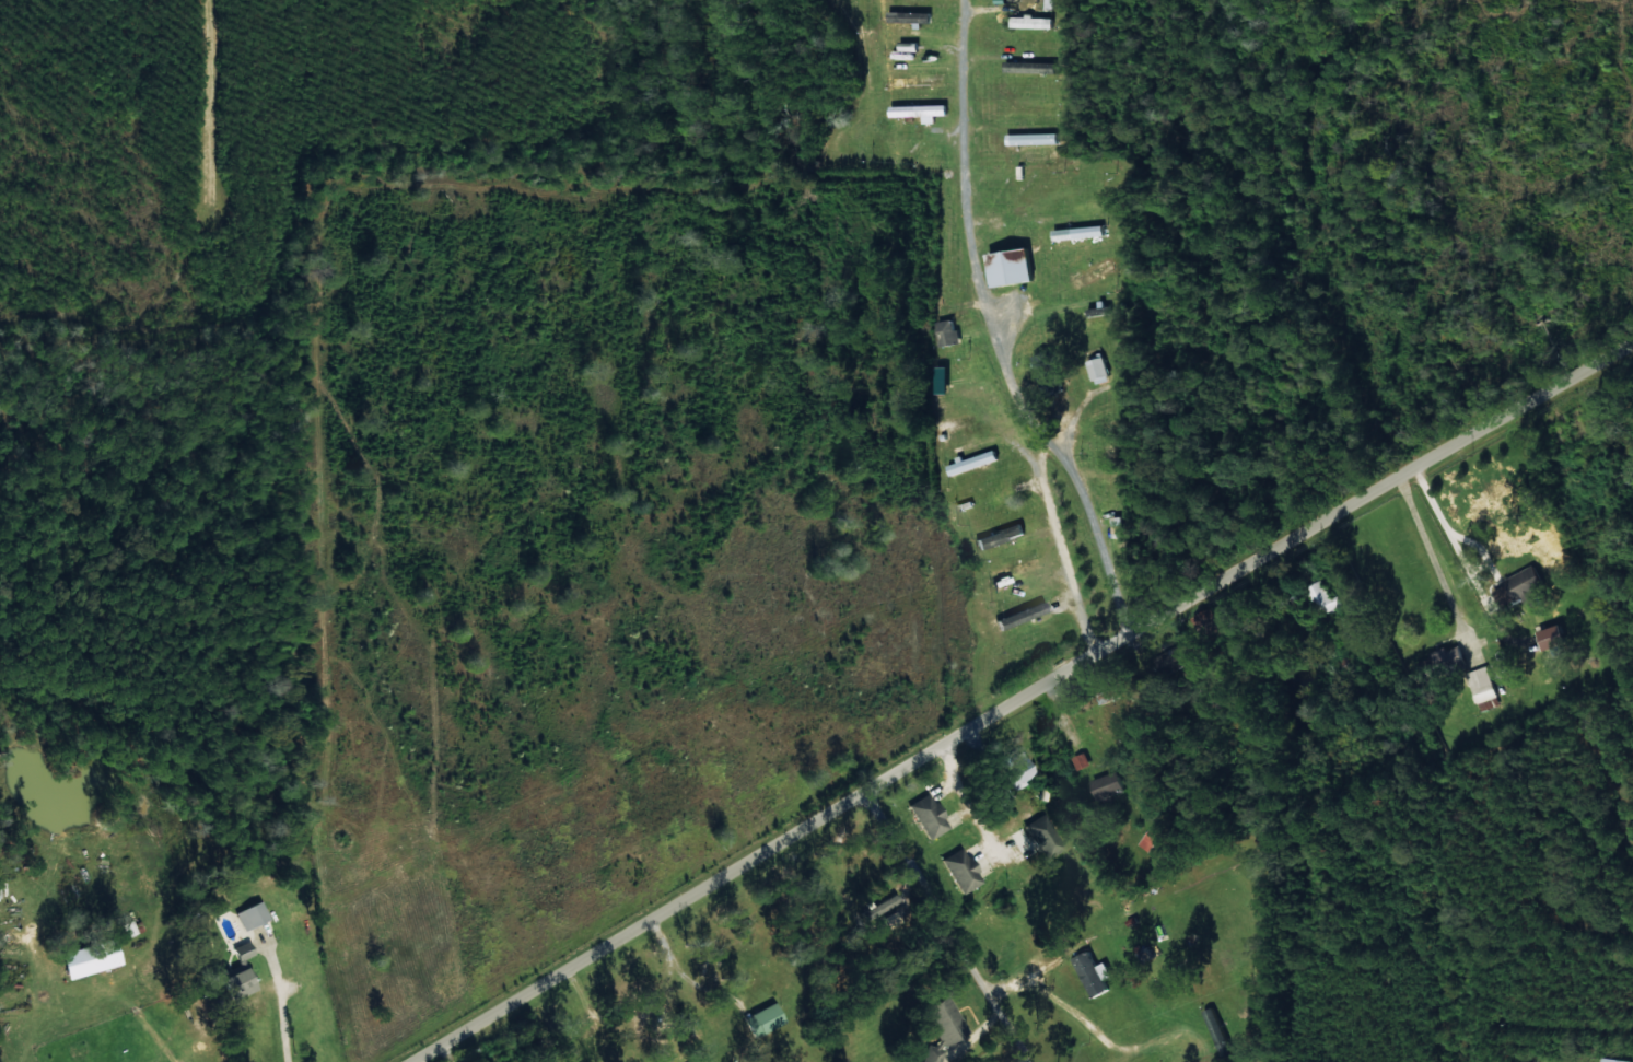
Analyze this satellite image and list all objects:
building: (912, 16)
building: (1034, 22)
building: (910, 46)
building: (905, 56)
building: (1033, 67)
building: (920, 82)
building: (1033, 108)
building: (922, 112)
building: (1034, 138)
building: (1081, 232)
building: (1014, 267)
building: (1094, 272)
road: (145, 328)
building: (950, 332)
building: (1099, 367)
building: (1050, 370)
building: (960, 421)
building: (975, 462)
road: (1090, 489)
building: (1520, 584)
building: (1326, 597)
building: (1208, 623)
building: (1556, 635)
building: (1436, 660)
building: (1482, 685)
road: (1020, 714)
building: (1083, 760)
building: (1018, 772)
building: (1111, 784)
building: (930, 815)
building: (1043, 836)
building: (1152, 839)
building: (963, 870)
building: (884, 905)
building: (128, 927)
road: (954, 934)
building: (244, 949)
building: (107, 958)
building: (1096, 973)
building: (238, 978)
building: (765, 1018)
building: (943, 1027)
building: (81, 1054)
building: (1612, 1060)

